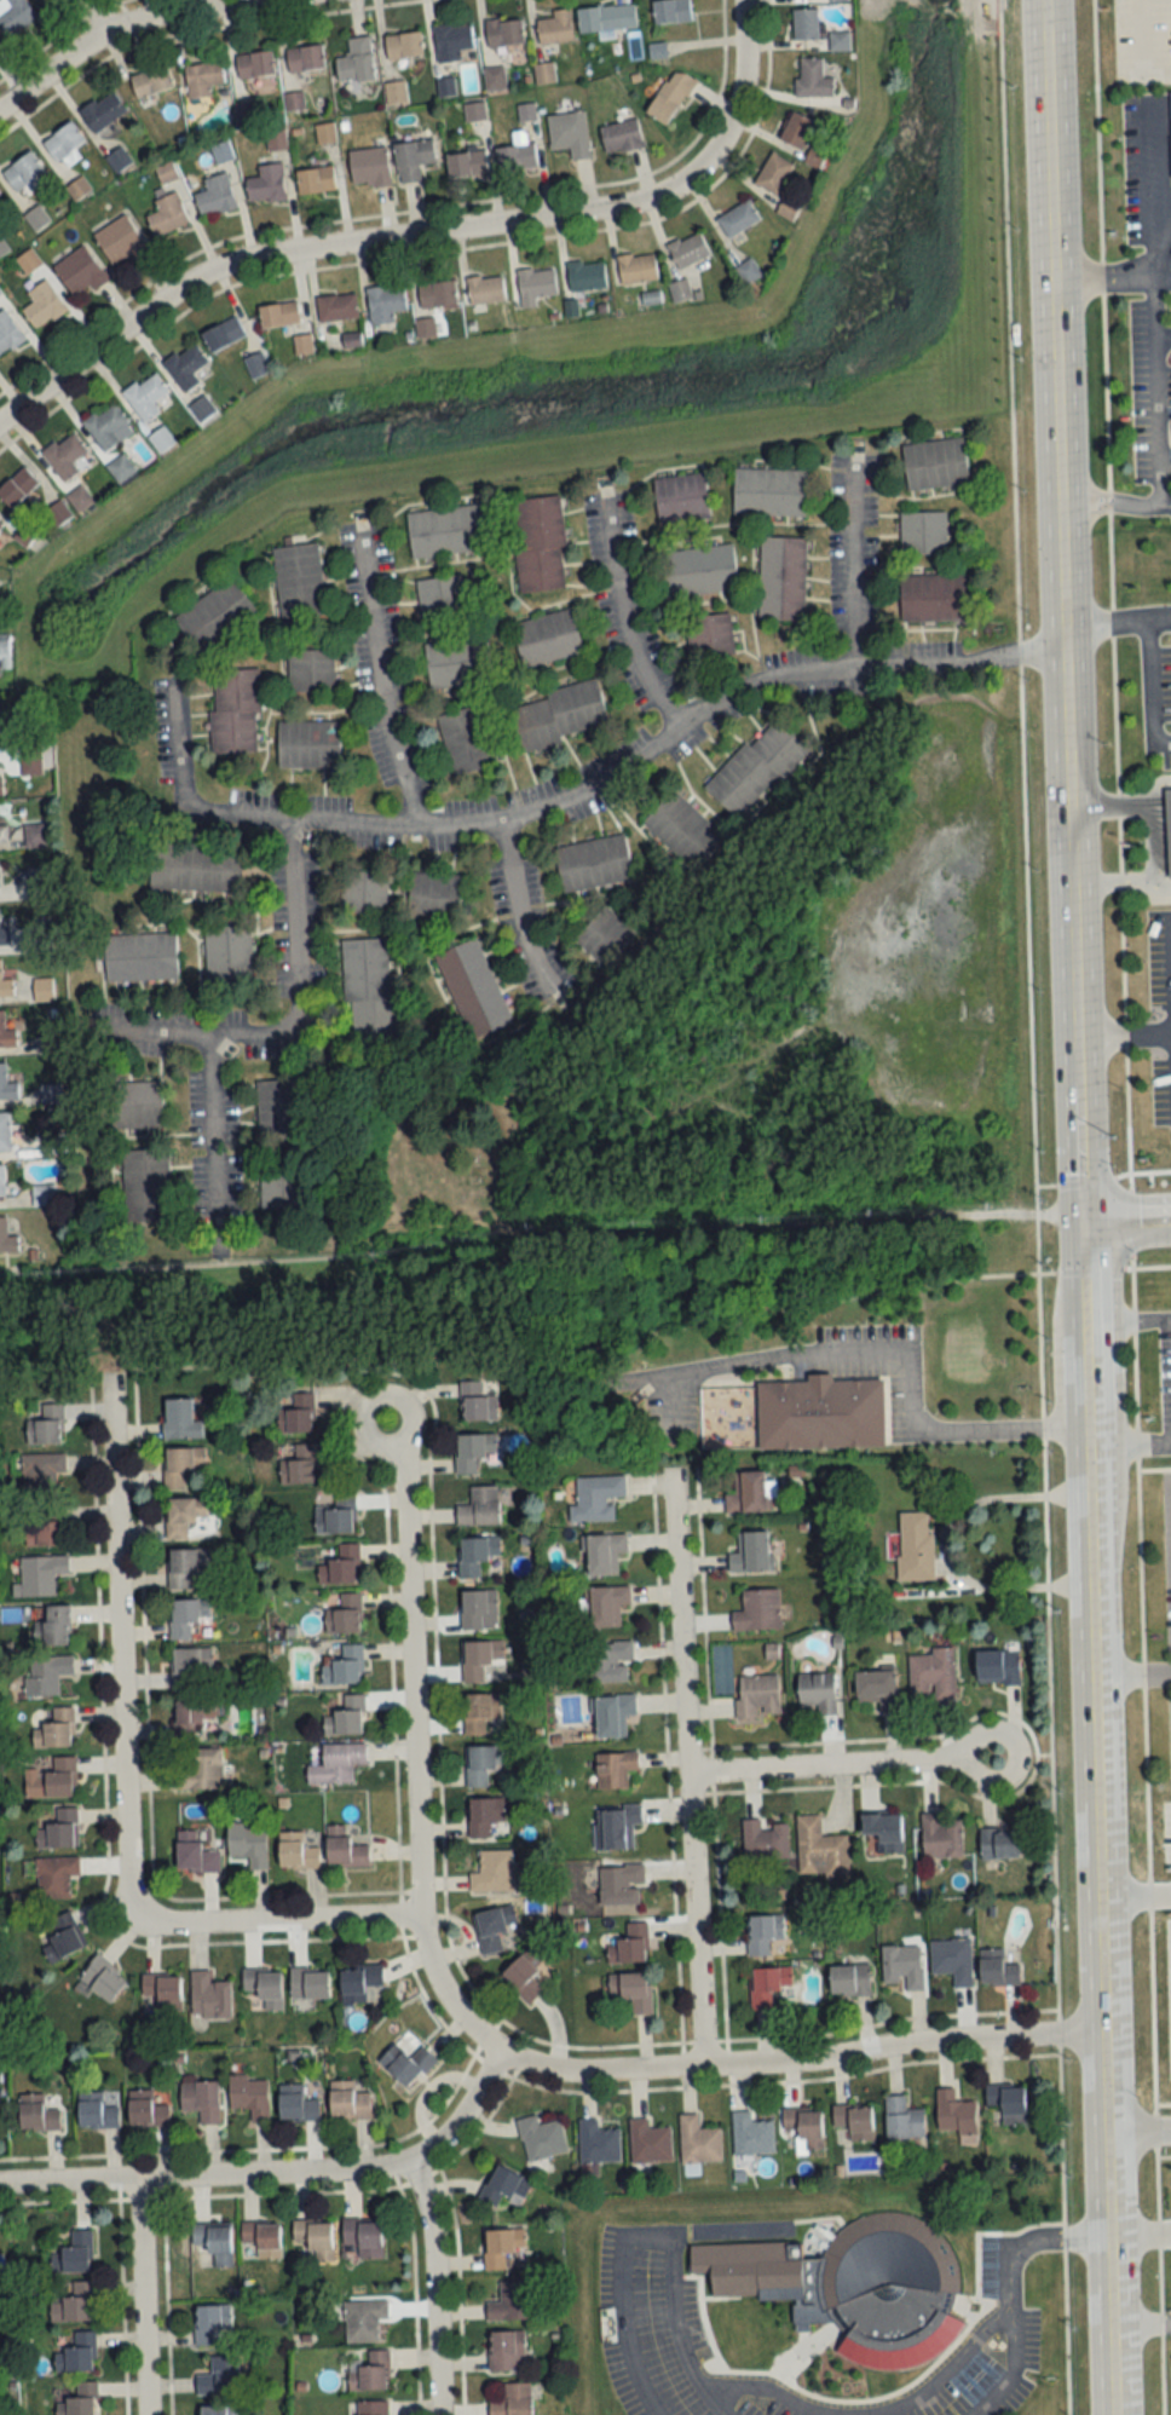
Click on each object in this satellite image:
building: (671, 11)
road: (92, 13)
building: (15, 16)
building: (606, 18)
road: (113, 24)
building: (804, 24)
building: (555, 28)
building: (504, 33)
building: (451, 41)
building: (838, 41)
building: (404, 46)
building: (305, 58)
building: (356, 60)
building: (255, 65)
building: (494, 77)
building: (202, 79)
building: (812, 79)
building: (151, 82)
building: (394, 93)
building: (670, 98)
building: (103, 111)
building: (474, 113)
building: (526, 113)
building: (797, 131)
building: (324, 133)
building: (569, 134)
building: (621, 138)
building: (276, 139)
building: (63, 142)
building: (220, 151)
building: (517, 157)
building: (814, 158)
building: (117, 160)
building: (413, 160)
building: (467, 165)
building: (369, 168)
building: (23, 172)
building: (166, 173)
building: (774, 174)
building: (316, 180)
building: (267, 184)
building: (215, 195)
building: (1, 200)
road: (1163, 201)
building: (788, 209)
building: (167, 215)
building: (36, 218)
building: (738, 219)
road: (417, 235)
building: (121, 241)
building: (688, 250)
building: (636, 267)
building: (748, 271)
building: (80, 272)
road: (1164, 273)
building: (585, 275)
road: (1103, 276)
building: (535, 284)
building: (485, 289)
building: (437, 294)
road: (1156, 298)
building: (385, 304)
building: (42, 305)
building: (336, 307)
building: (279, 315)
building: (425, 328)
building: (8, 333)
building: (223, 334)
road: (1164, 335)
building: (185, 367)
building: (145, 397)
building: (200, 409)
building: (105, 427)
building: (64, 456)
building: (934, 462)
building: (17, 486)
building: (768, 491)
building: (79, 497)
building: (680, 497)
road: (1114, 500)
building: (58, 511)
building: (0, 523)
building: (449, 530)
building: (923, 532)
road: (1058, 542)
building: (538, 543)
road: (852, 569)
building: (699, 570)
building: (781, 577)
building: (299, 580)
building: (936, 596)
building: (440, 598)
road: (1159, 613)
building: (215, 615)
road: (1103, 618)
road: (619, 621)
building: (709, 634)
building: (547, 638)
building: (4, 652)
building: (457, 662)
building: (310, 669)
road: (375, 685)
road: (1150, 686)
building: (235, 709)
building: (558, 715)
building: (466, 739)
building: (307, 743)
road: (177, 749)
road: (635, 754)
building: (755, 768)
building: (1, 785)
road: (1121, 799)
building: (1169, 828)
building: (682, 830)
building: (2, 834)
building: (39, 835)
road: (1150, 835)
building: (593, 863)
building: (196, 868)
road: (1121, 878)
building: (39, 882)
building: (364, 891)
building: (435, 897)
road: (507, 907)
building: (5, 935)
building: (604, 935)
building: (39, 939)
building: (139, 956)
building: (227, 956)
building: (6, 986)
building: (42, 989)
building: (472, 989)
building: (368, 991)
road: (292, 1011)
building: (6, 1034)
road: (1121, 1036)
road: (1129, 1082)
building: (7, 1087)
building: (135, 1105)
building: (279, 1109)
road: (206, 1126)
building: (4, 1131)
building: (51, 1143)
park: (444, 1148)
road: (1075, 1154)
building: (1, 1180)
building: (146, 1185)
building: (282, 1186)
building: (42, 1194)
road: (1034, 1206)
road: (1124, 1221)
road: (537, 1222)
building: (7, 1238)
road: (1079, 1272)
road: (852, 1298)
road: (1125, 1319)
road: (881, 1355)
road: (1081, 1376)
building: (477, 1402)
road: (670, 1405)
building: (296, 1413)
building: (821, 1413)
building: (180, 1419)
building: (46, 1425)
road: (1126, 1443)
building: (473, 1451)
building: (300, 1464)
building: (40, 1465)
building: (179, 1466)
building: (750, 1492)
building: (596, 1495)
building: (480, 1506)
building: (336, 1515)
building: (185, 1518)
building: (44, 1532)
building: (915, 1545)
building: (604, 1552)
building: (751, 1552)
building: (477, 1555)
building: (184, 1566)
building: (341, 1566)
building: (40, 1574)
building: (607, 1606)
building: (477, 1608)
building: (757, 1610)
building: (344, 1615)
building: (188, 1616)
building: (56, 1625)
road: (114, 1648)
building: (479, 1659)
building: (610, 1662)
building: (345, 1666)
building: (189, 1667)
building: (998, 1667)
building: (45, 1672)
road: (1130, 1673)
building: (933, 1675)
building: (877, 1689)
building: (817, 1691)
building: (757, 1698)
building: (479, 1712)
building: (345, 1716)
building: (612, 1716)
building: (191, 1718)
building: (54, 1729)
road: (409, 1748)
building: (336, 1763)
building: (483, 1763)
road: (840, 1765)
building: (197, 1769)
building: (615, 1769)
building: (51, 1779)
road: (685, 1787)
building: (484, 1816)
building: (619, 1825)
building: (57, 1828)
building: (883, 1833)
building: (940, 1837)
building: (765, 1840)
building: (248, 1844)
building: (999, 1844)
building: (344, 1849)
building: (819, 1849)
building: (296, 1851)
building: (194, 1855)
building: (492, 1872)
building: (54, 1875)
building: (619, 1884)
road: (1132, 1898)
road: (279, 1924)
road: (1096, 1924)
building: (495, 1927)
building: (763, 1932)
building: (62, 1938)
building: (630, 1946)
building: (952, 1960)
building: (902, 1966)
building: (997, 1969)
building: (526, 1975)
building: (102, 1979)
building: (849, 1981)
building: (310, 1983)
building: (359, 1983)
building: (766, 1985)
building: (264, 1987)
building: (163, 1990)
building: (630, 1990)
building: (209, 1996)
road: (797, 2062)
building: (406, 2063)
building: (249, 2097)
building: (201, 2100)
building: (348, 2102)
building: (296, 2104)
building: (1008, 2104)
building: (145, 2110)
building: (96, 2111)
building: (38, 2114)
building: (956, 2115)
building: (902, 2119)
building: (854, 2121)
building: (804, 2128)
road: (1136, 2129)
building: (751, 2134)
building: (542, 2138)
building: (698, 2140)
building: (596, 2142)
building: (648, 2142)
road: (277, 2174)
building: (503, 2185)
road: (1137, 2229)
road: (651, 2234)
building: (363, 2237)
building: (315, 2238)
building: (261, 2241)
building: (213, 2243)
building: (502, 2248)
building: (75, 2253)
building: (844, 2272)
road: (431, 2287)
road: (1013, 2296)
road: (138, 2298)
building: (73, 2302)
building: (512, 2302)
road: (1138, 2315)
building: (363, 2321)
building: (207, 2325)
building: (507, 2351)
building: (76, 2352)
building: (368, 2370)
building: (220, 2377)
building: (80, 2400)
building: (513, 2400)
building: (371, 2408)
road: (878, 2409)
building: (219, 2410)
road: (814, 2411)

